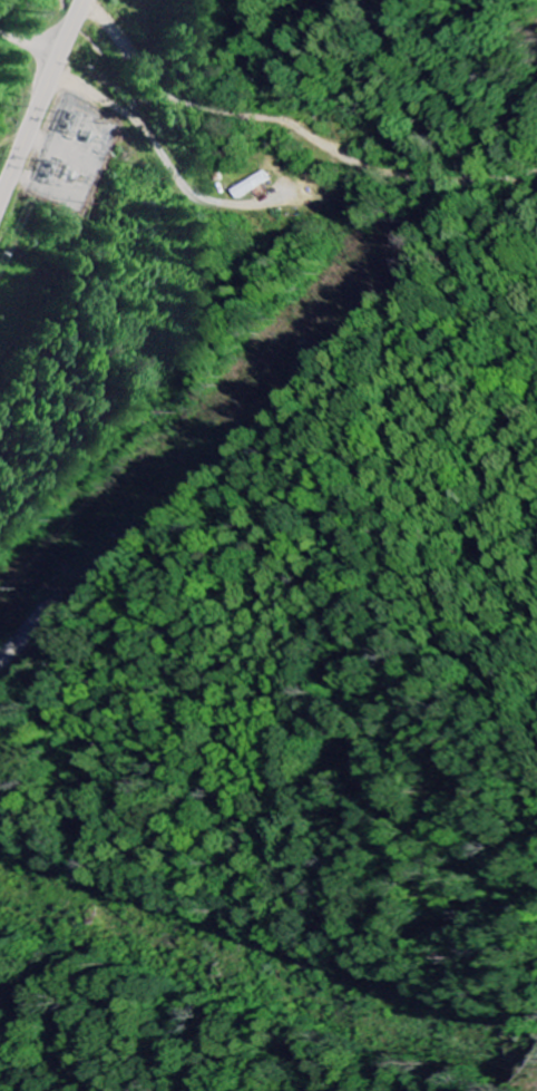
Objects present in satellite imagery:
road: (31, 40)
road: (42, 100)
power substation: (74, 149)
building: (250, 186)

